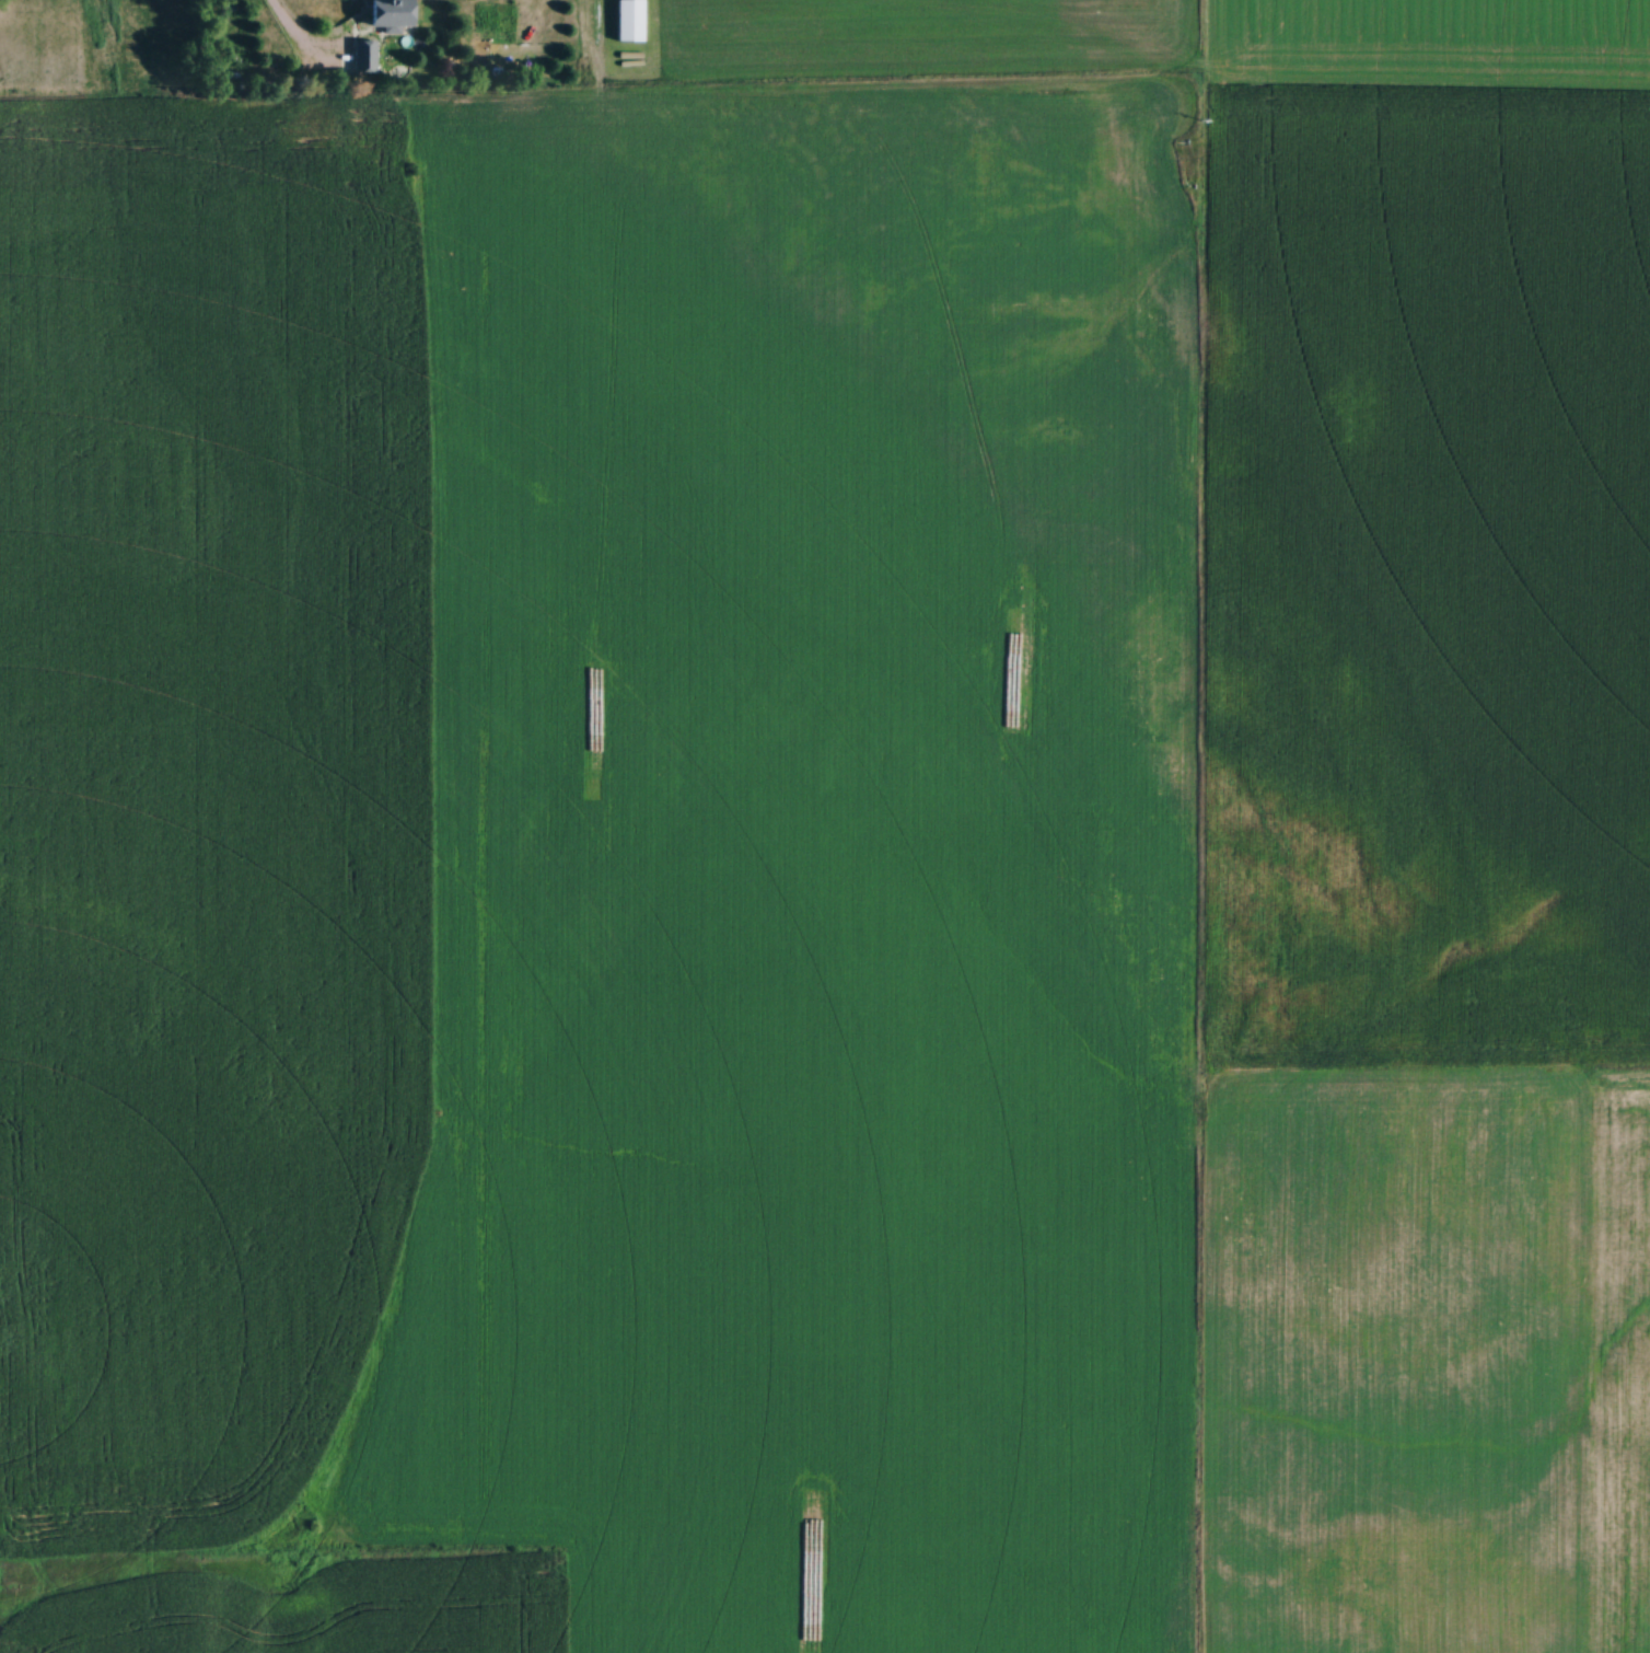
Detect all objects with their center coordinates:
building: (388, 13)
road: (299, 41)
building: (363, 56)

